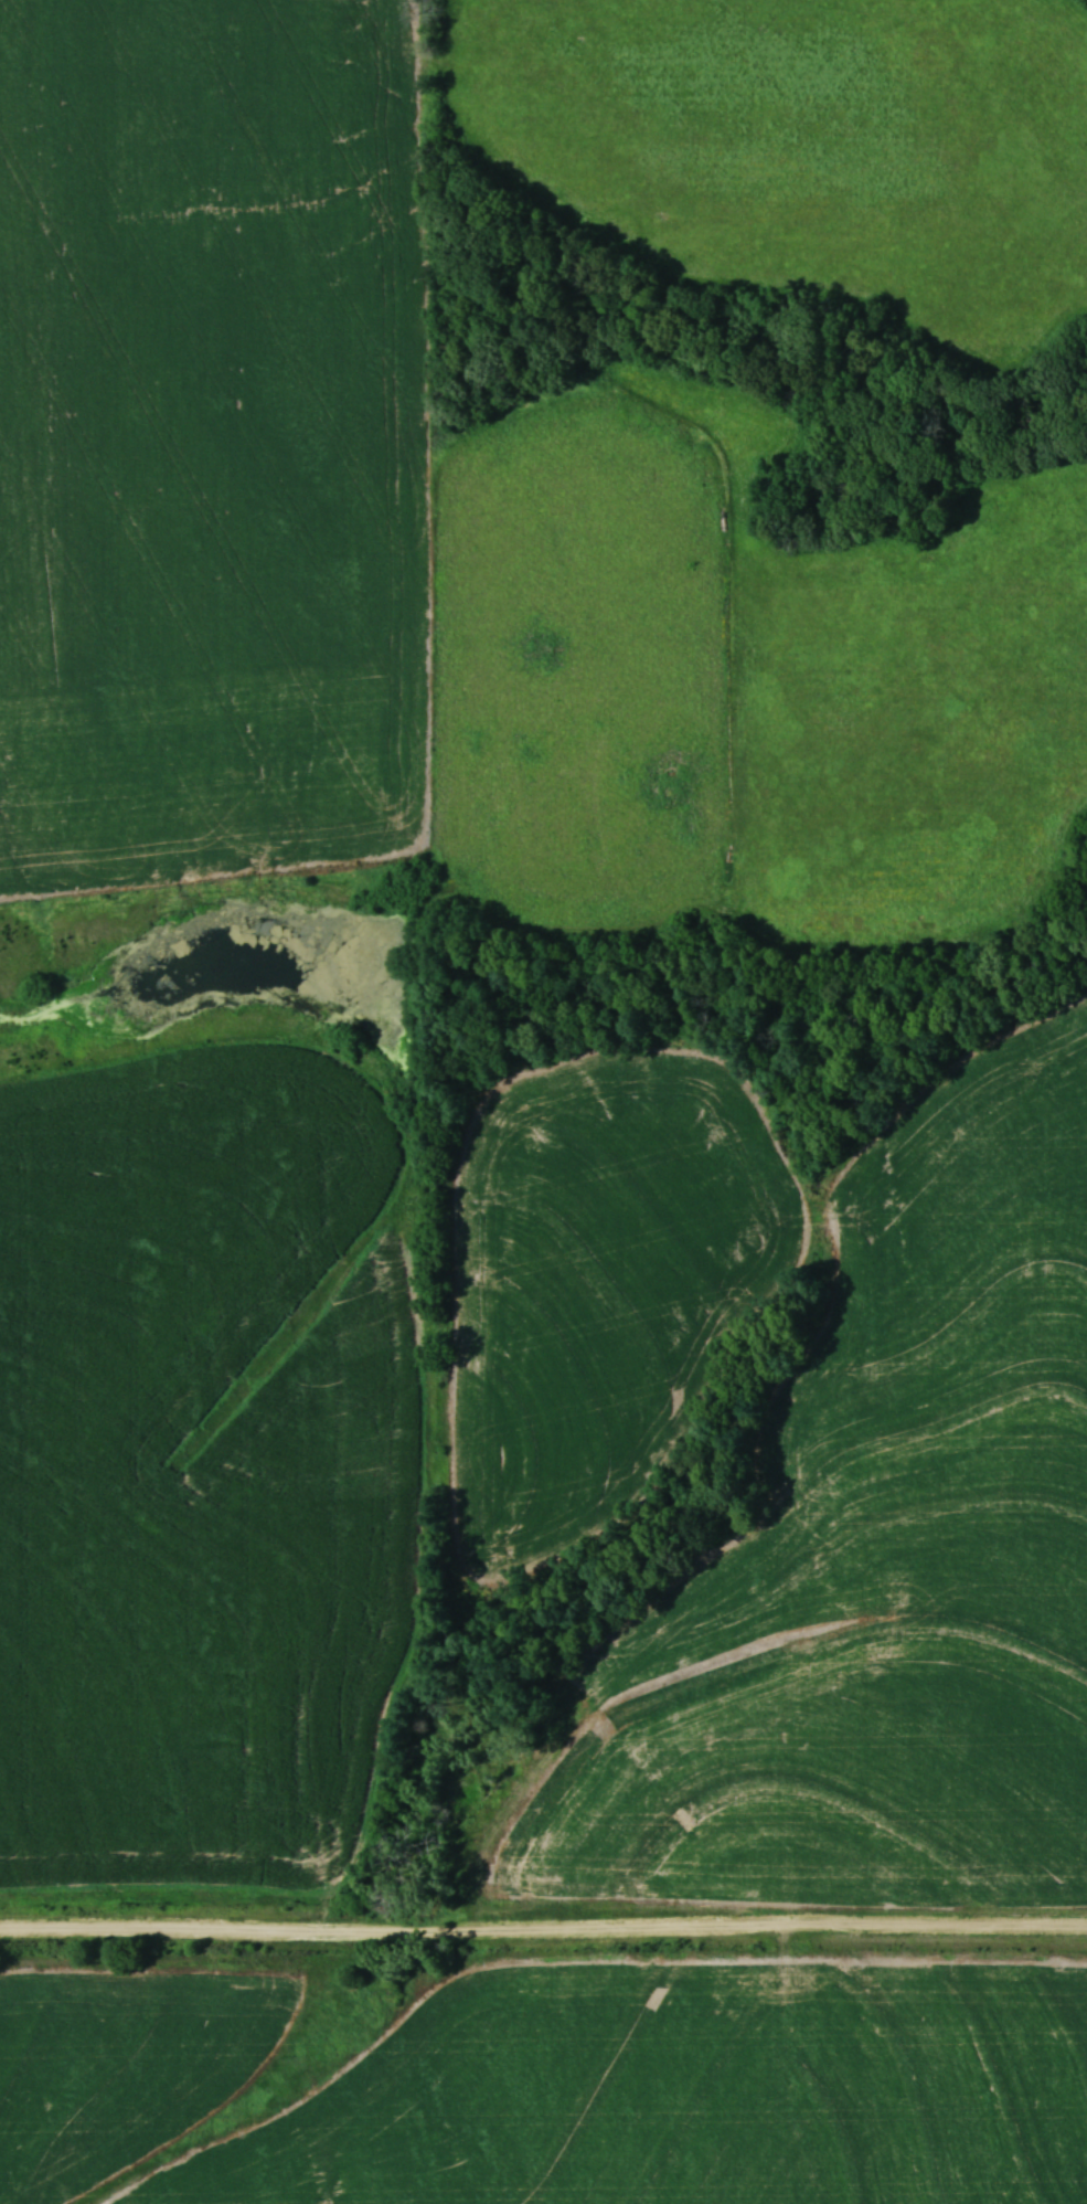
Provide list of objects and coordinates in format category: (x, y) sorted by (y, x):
road: (543, 1926)

